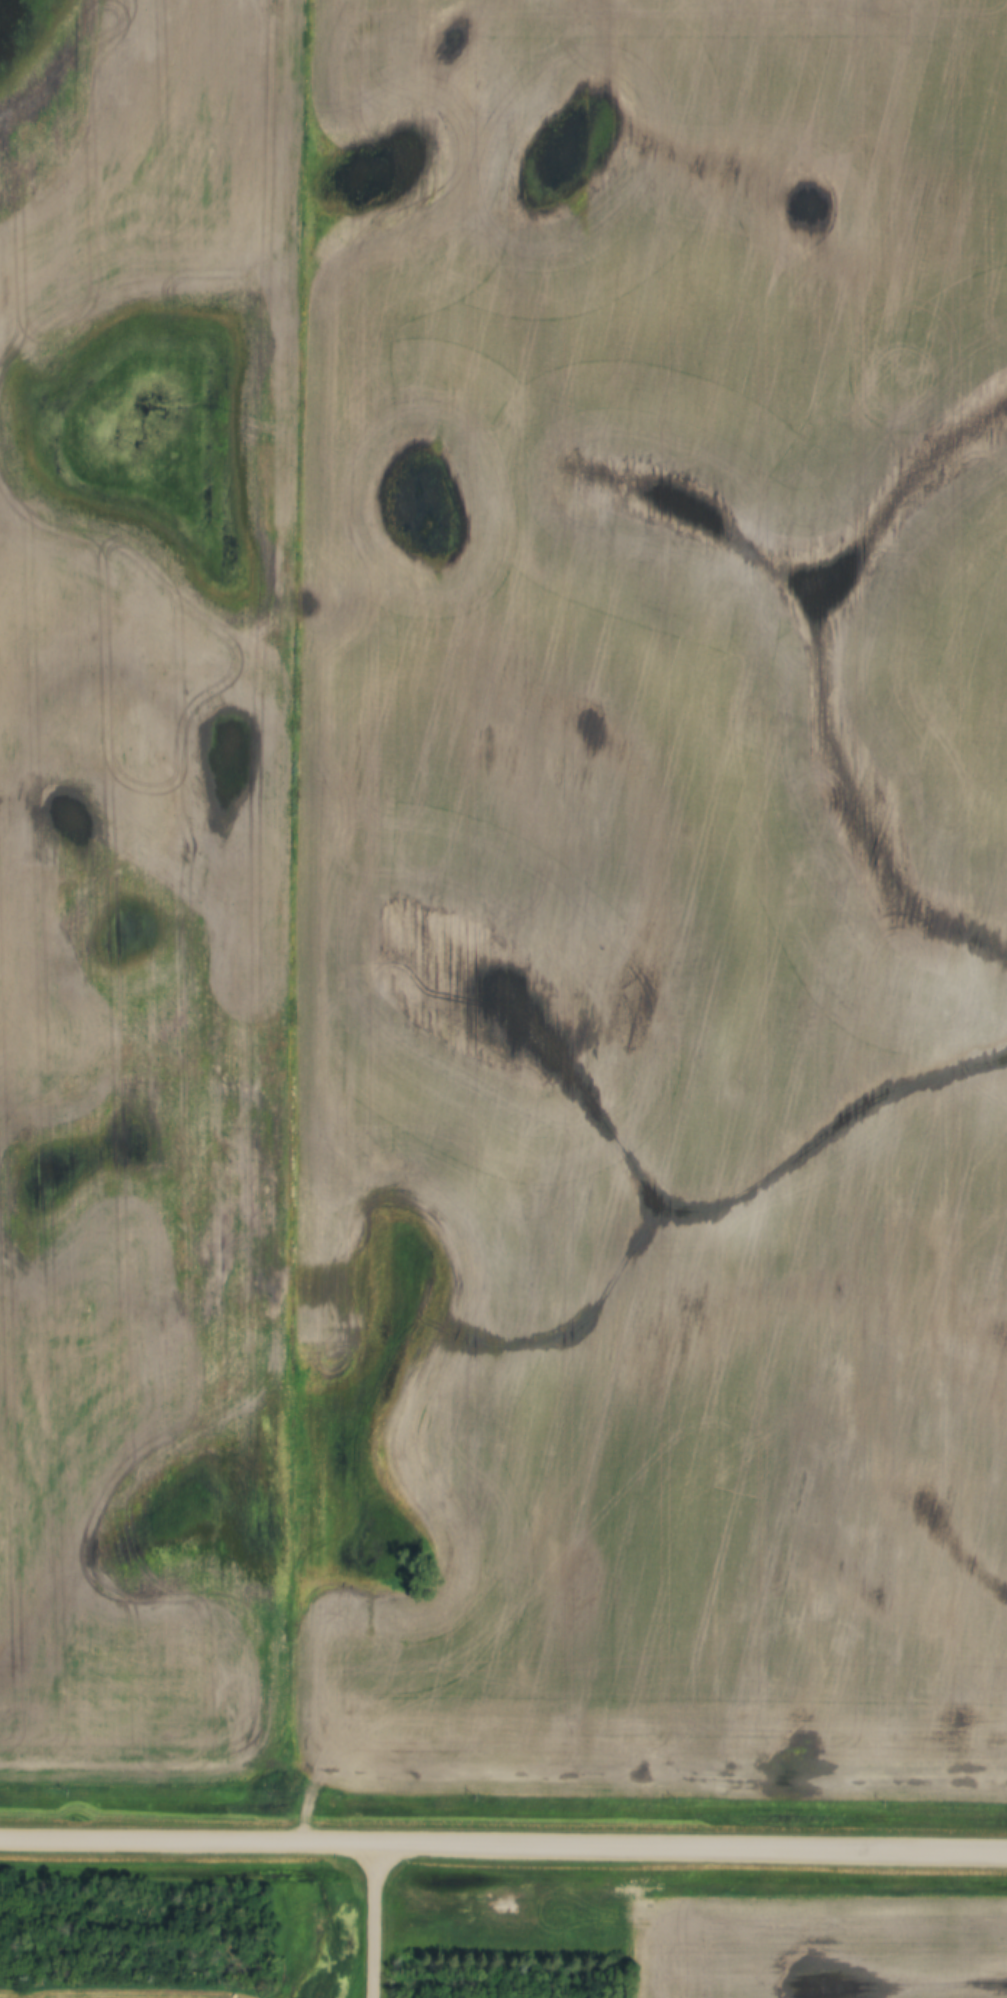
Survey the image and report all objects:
road: (503, 1845)
road: (371, 1920)

